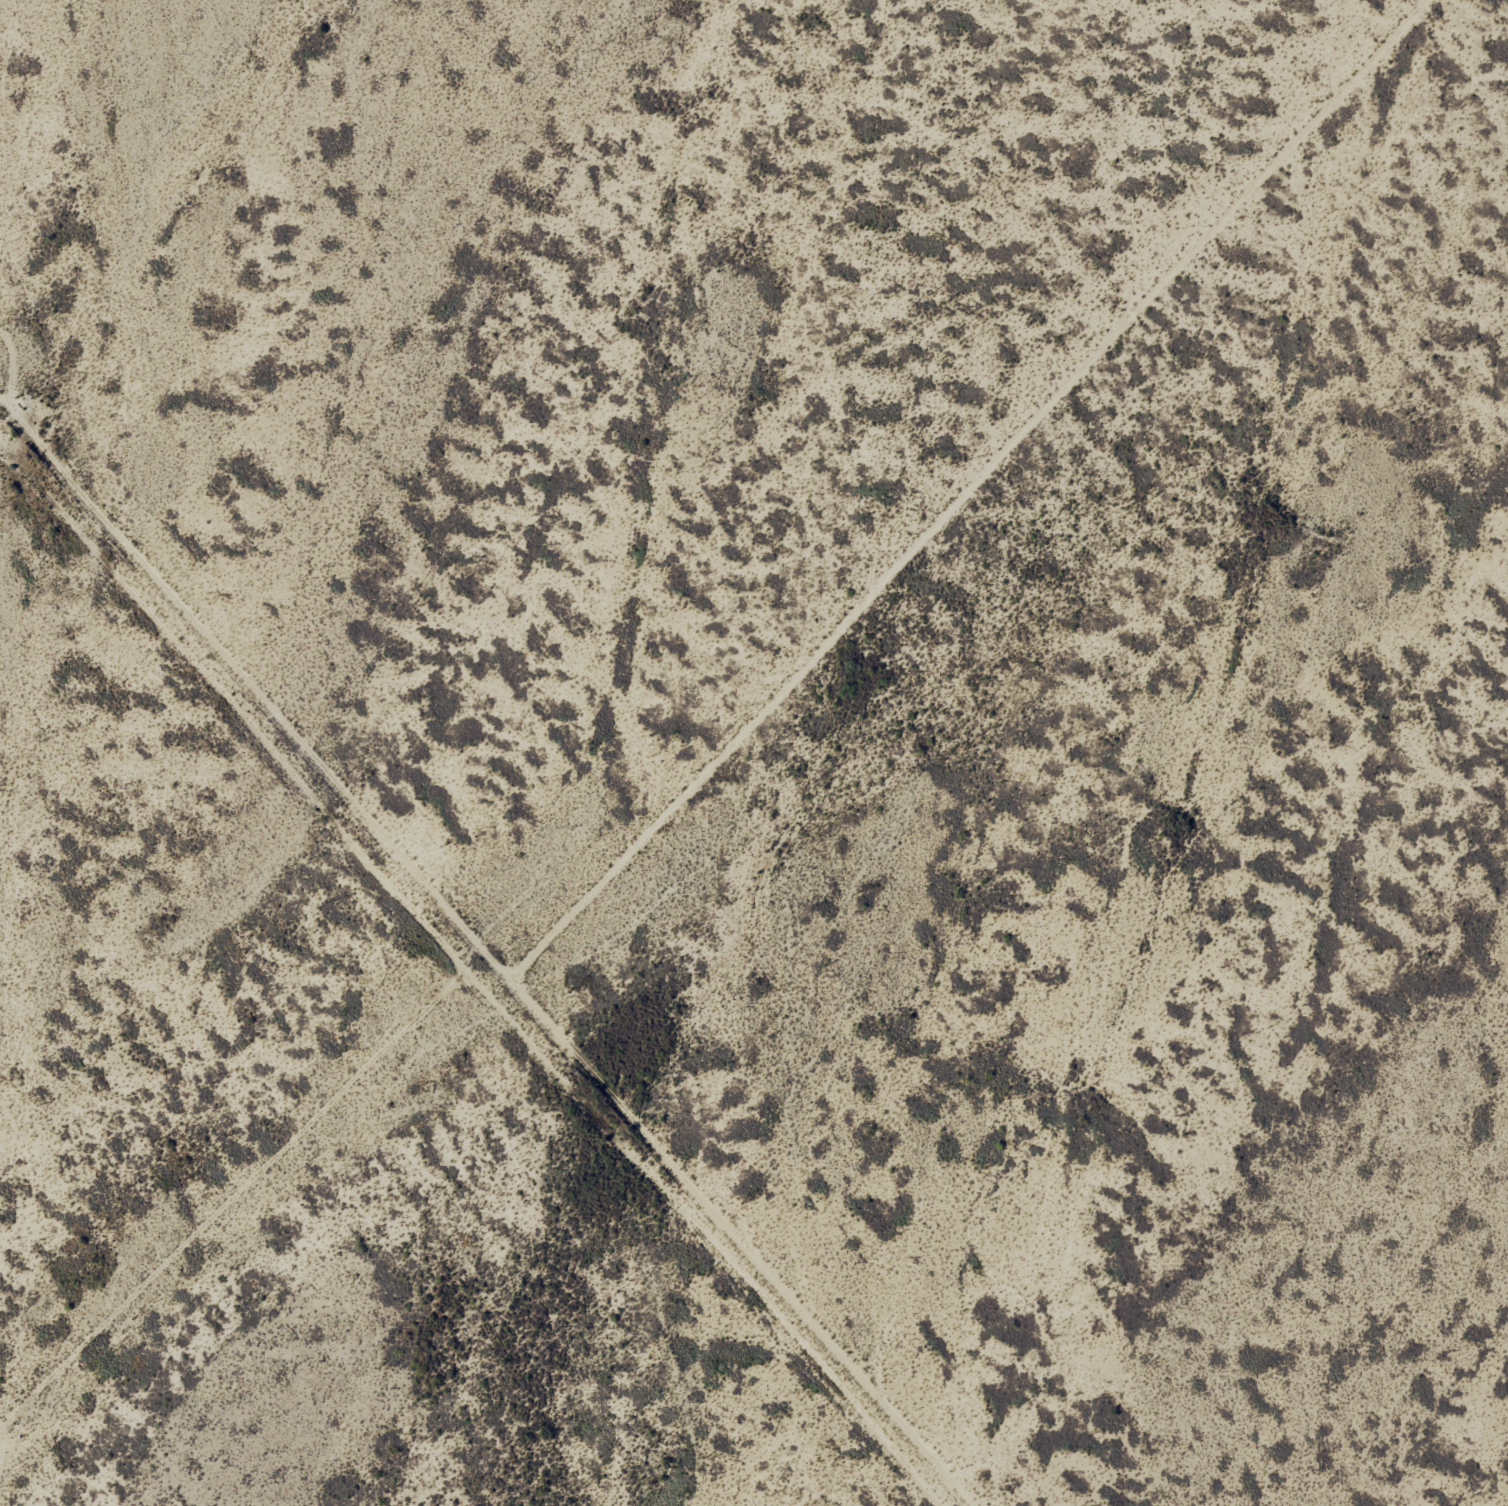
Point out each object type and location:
road: (1265, 783)
road: (467, 936)

